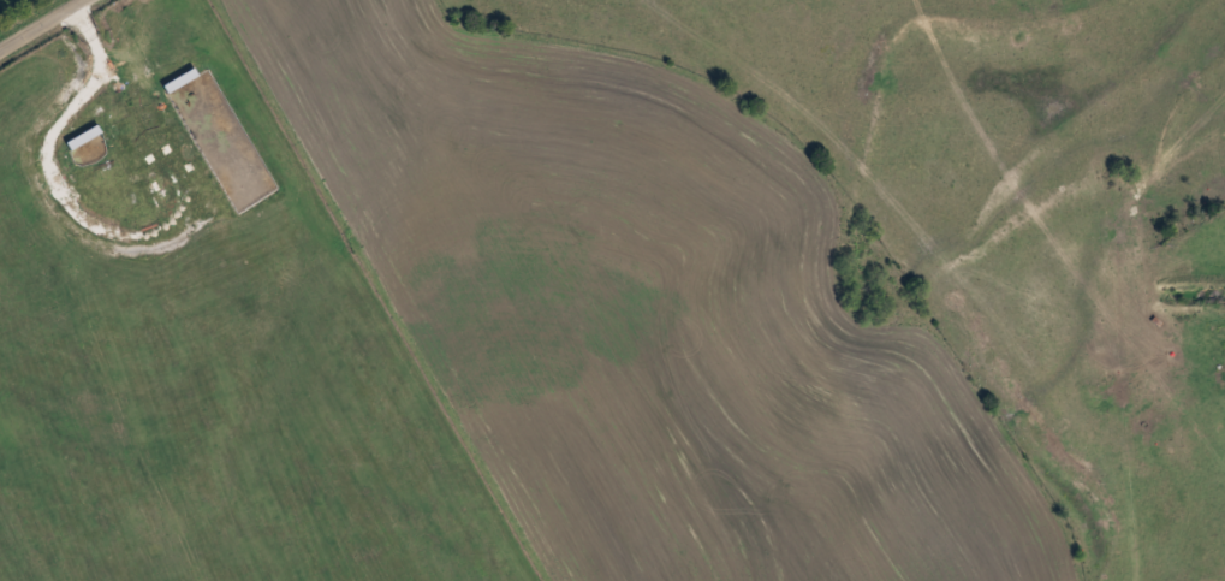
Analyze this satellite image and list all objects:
road: (41, 25)

